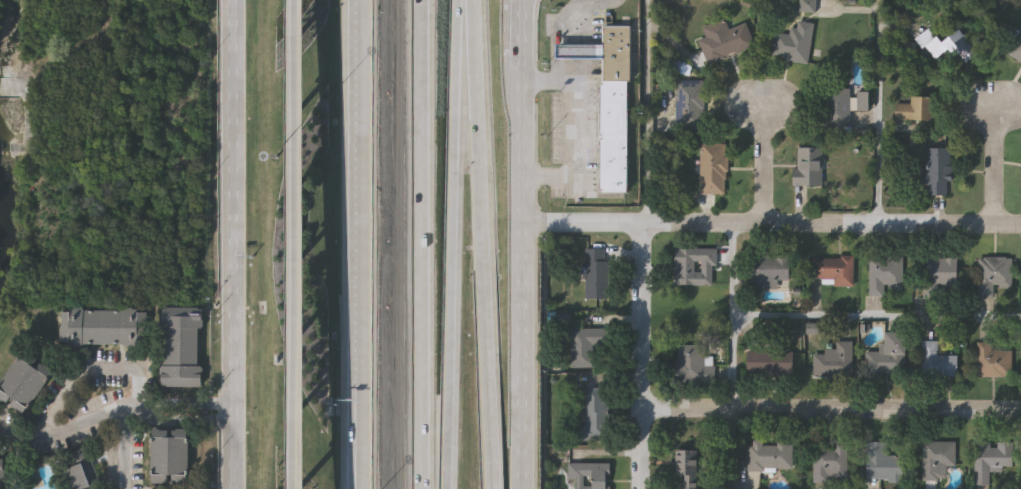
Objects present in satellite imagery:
road: (519, 8)
road: (524, 8)
road: (592, 18)
building: (725, 40)
building: (794, 43)
building: (946, 44)
building: (1016, 47)
building: (578, 52)
gas station: (578, 52)
road: (581, 52)
building: (617, 54)
road: (551, 79)
building: (690, 104)
building: (842, 106)
building: (915, 110)
road: (880, 113)
road: (649, 114)
building: (614, 136)
road: (578, 143)
road: (765, 166)
building: (809, 167)
building: (712, 168)
road: (994, 169)
building: (937, 171)
road: (772, 226)
road: (235, 244)
road: (298, 244)
road: (358, 244)
road: (415, 244)
road: (452, 244)
road: (481, 244)
road: (525, 244)
building: (694, 266)
building: (770, 268)
building: (830, 268)
building: (885, 272)
building: (596, 273)
building: (940, 273)
building: (992, 274)
road: (734, 317)
road: (878, 317)
building: (106, 328)
building: (182, 347)
building: (585, 347)
building: (886, 354)
road: (644, 359)
building: (833, 360)
building: (936, 360)
building: (991, 360)
building: (768, 361)
building: (693, 364)
road: (88, 378)
building: (23, 384)
road: (832, 409)
road: (137, 414)
building: (594, 415)
road: (68, 432)
road: (735, 448)
road: (124, 453)
building: (768, 455)
building: (170, 457)
building: (937, 458)
building: (991, 458)
building: (881, 462)
building: (830, 463)
building: (685, 467)
building: (78, 470)
building: (1, 473)
building: (590, 474)

